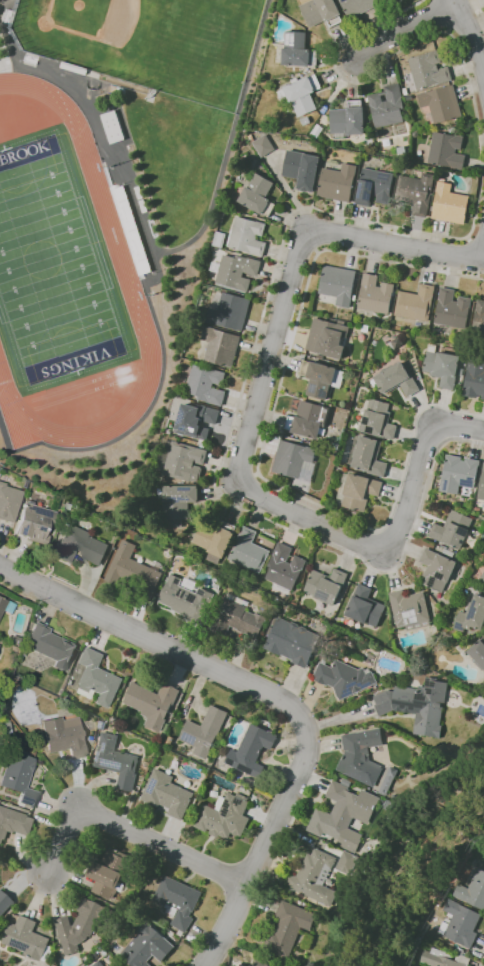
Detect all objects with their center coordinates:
building: (385, 0)
building: (358, 6)
road: (479, 10)
building: (321, 12)
road: (470, 27)
road: (411, 32)
park: (149, 43)
building: (296, 49)
building: (429, 70)
building: (302, 94)
building: (441, 103)
building: (387, 106)
building: (348, 119)
building: (305, 121)
road: (94, 124)
building: (317, 130)
road: (229, 143)
building: (264, 145)
building: (447, 150)
building: (302, 169)
rooftop solar panel: (382, 177)
building: (338, 182)
rooftop solar panel: (369, 185)
building: (374, 187)
rooftop solar panel: (359, 191)
building: (416, 192)
building: (258, 195)
rooftop solar panel: (366, 196)
building: (450, 203)
road: (286, 220)
track: (114, 236)
building: (248, 236)
road: (476, 238)
building: (220, 239)
road: (396, 243)
park: (54, 269)
building: (236, 271)
track: (57, 277)
building: (338, 284)
building: (376, 295)
building: (416, 303)
building: (452, 309)
building: (228, 310)
building: (479, 319)
building: (327, 337)
building: (397, 342)
building: (220, 346)
building: (443, 367)
building: (318, 378)
building: (396, 379)
building: (474, 379)
building: (203, 383)
rooftop solar panel: (314, 387)
rooftop solar panel: (323, 393)
rooftop solar panel: (183, 414)
road: (144, 415)
building: (308, 419)
building: (197, 420)
building: (378, 420)
rooftop solar panel: (367, 421)
rooftop solar panel: (185, 427)
rooftop solar panel: (369, 431)
road: (264, 439)
road: (255, 440)
building: (369, 456)
building: (182, 460)
building: (294, 460)
road: (424, 467)
building: (458, 473)
rooftop solar panel: (468, 482)
rooftop solar panel: (447, 483)
rooftop solar panel: (184, 488)
building: (481, 488)
building: (357, 491)
rooftop solar panel: (174, 498)
building: (178, 502)
building: (8, 503)
building: (69, 505)
building: (34, 523)
building: (453, 529)
rooftop solar panel: (463, 530)
building: (214, 541)
building: (80, 546)
building: (249, 551)
building: (449, 553)
road: (21, 558)
building: (284, 568)
building: (437, 569)
building: (133, 571)
rooftop solar panel: (440, 574)
building: (483, 577)
rooftop solar panel: (431, 581)
building: (326, 585)
rooftop solar panel: (323, 595)
road: (24, 598)
building: (184, 599)
building: (6, 606)
building: (365, 606)
building: (410, 609)
road: (49, 610)
rooftop solar panel: (414, 612)
rooftop solar panel: (474, 612)
rooftop solar panel: (406, 614)
building: (472, 615)
building: (236, 616)
rooftop solar panel: (413, 619)
rooftop solar panel: (406, 622)
rooftop solar panel: (457, 626)
building: (14, 640)
road: (157, 641)
building: (292, 641)
building: (51, 646)
building: (478, 653)
building: (98, 678)
building: (344, 678)
rooftop solar panel: (430, 683)
rooftop solar panel: (353, 686)
rooftop solar panel: (430, 690)
rooftop solar panel: (420, 696)
building: (151, 703)
building: (417, 704)
road: (340, 718)
building: (102, 725)
rooftop solar panel: (101, 726)
building: (5, 729)
building: (204, 731)
building: (63, 737)
rooftop solar panel: (188, 740)
building: (37, 746)
rooftop solar panel: (104, 746)
building: (251, 750)
building: (361, 756)
building: (117, 761)
rooftop solar panel: (111, 764)
building: (19, 778)
building: (389, 781)
building: (250, 782)
rooftop solar panel: (152, 786)
building: (167, 794)
rooftop solar panel: (238, 801)
rooftop solar panel: (226, 808)
building: (344, 815)
building: (224, 817)
building: (14, 823)
road: (130, 831)
road: (265, 849)
building: (347, 862)
building: (108, 873)
building: (315, 877)
building: (472, 891)
building: (442, 896)
building: (177, 901)
building: (5, 902)
building: (0, 920)
building: (460, 923)
building: (80, 925)
building: (288, 928)
building: (27, 939)
rooftop solar panel: (15, 943)
building: (147, 946)
building: (443, 959)
building: (98, 963)
building: (259, 963)
building: (94, 964)

